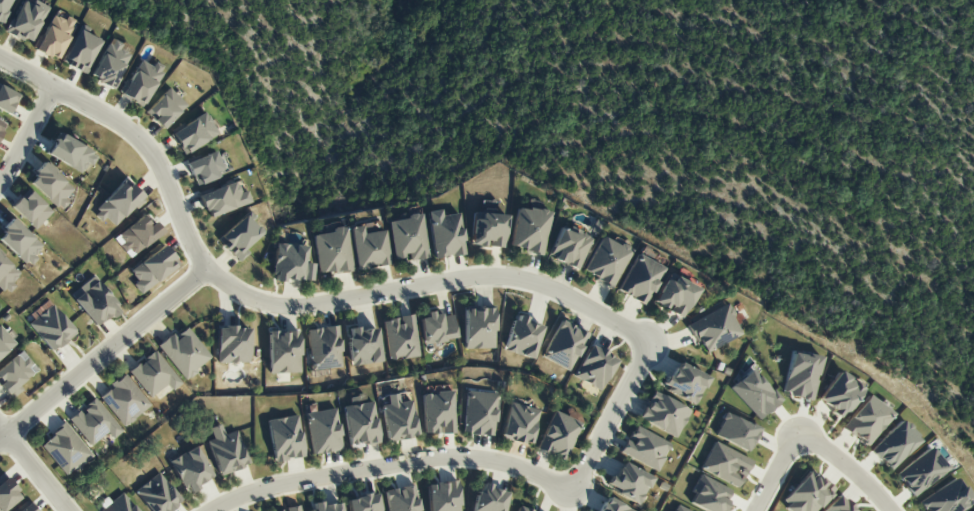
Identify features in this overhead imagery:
building: (4, 8)
building: (26, 20)
building: (55, 36)
building: (80, 51)
building: (110, 63)
building: (141, 82)
building: (7, 99)
building: (164, 108)
building: (1, 126)
building: (193, 133)
road: (27, 137)
building: (71, 153)
building: (204, 168)
building: (51, 186)
building: (222, 199)
building: (117, 204)
building: (30, 209)
building: (529, 229)
building: (488, 230)
building: (445, 234)
building: (239, 237)
building: (407, 237)
building: (19, 243)
building: (568, 247)
building: (369, 248)
building: (332, 251)
building: (606, 261)
building: (291, 263)
building: (151, 268)
building: (7, 275)
building: (640, 279)
building: (675, 296)
building: (93, 301)
road: (279, 304)
building: (50, 327)
building: (437, 327)
building: (479, 328)
building: (714, 329)
building: (400, 337)
building: (522, 337)
building: (5, 339)
building: (232, 344)
building: (564, 345)
building: (363, 346)
building: (324, 347)
building: (184, 352)
building: (284, 352)
road: (103, 354)
building: (594, 367)
building: (15, 374)
building: (153, 375)
building: (800, 376)
building: (684, 383)
building: (754, 394)
building: (838, 394)
building: (124, 400)
building: (437, 413)
building: (478, 413)
building: (662, 414)
road: (611, 417)
building: (397, 418)
building: (866, 420)
building: (93, 422)
building: (359, 422)
building: (518, 423)
building: (322, 431)
building: (735, 432)
building: (558, 435)
building: (284, 438)
building: (893, 445)
building: (644, 448)
building: (64, 449)
building: (226, 450)
building: (725, 464)
road: (845, 467)
road: (35, 468)
road: (389, 468)
building: (190, 469)
road: (774, 470)
building: (920, 471)
building: (629, 482)
building: (7, 493)
building: (806, 493)
building: (156, 494)
building: (709, 495)
building: (442, 496)
building: (488, 498)
building: (945, 498)
building: (401, 499)
building: (363, 503)
building: (118, 504)
building: (836, 505)
building: (612, 506)
building: (325, 507)
building: (26, 508)
building: (292, 508)
building: (522, 508)
building: (679, 508)

